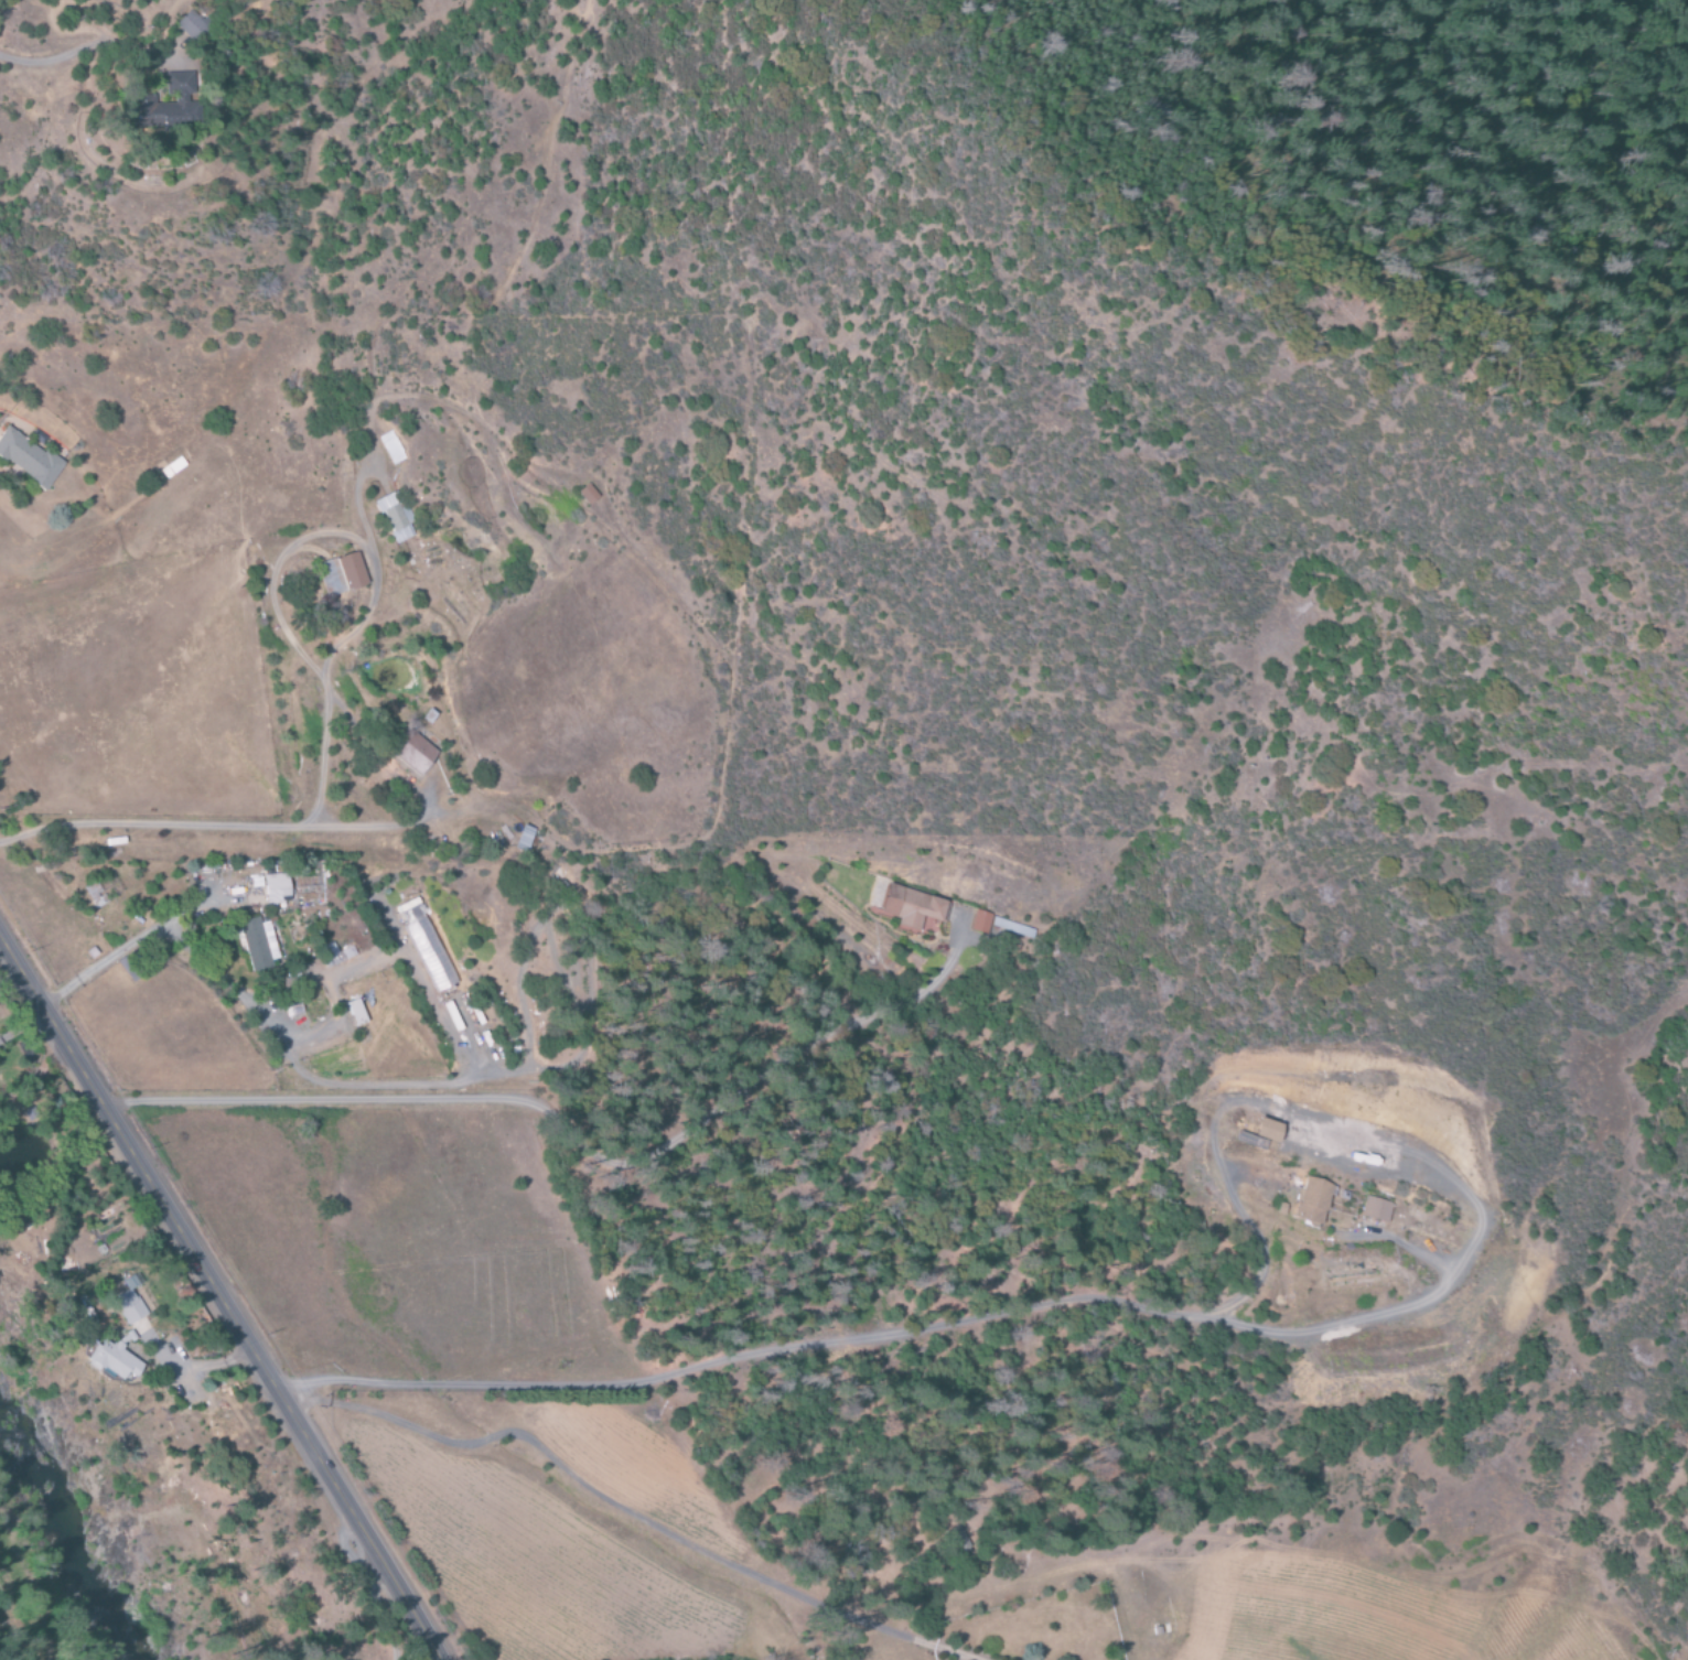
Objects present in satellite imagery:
building: (190, 24)
road: (41, 56)
building: (166, 105)
building: (28, 459)
building: (584, 495)
building: (394, 517)
building: (340, 574)
building: (410, 752)
building: (523, 839)
building: (275, 890)
building: (911, 907)
building: (980, 923)
building: (1012, 928)
building: (258, 944)
building: (423, 947)
building: (354, 1013)
building: (1267, 1130)
building: (1250, 1140)
building: (1311, 1201)
building: (1376, 1209)
building: (131, 1282)
road: (218, 1296)
building: (131, 1311)
building: (125, 1338)
building: (110, 1360)
river: (73, 1550)
road: (377, 1605)

